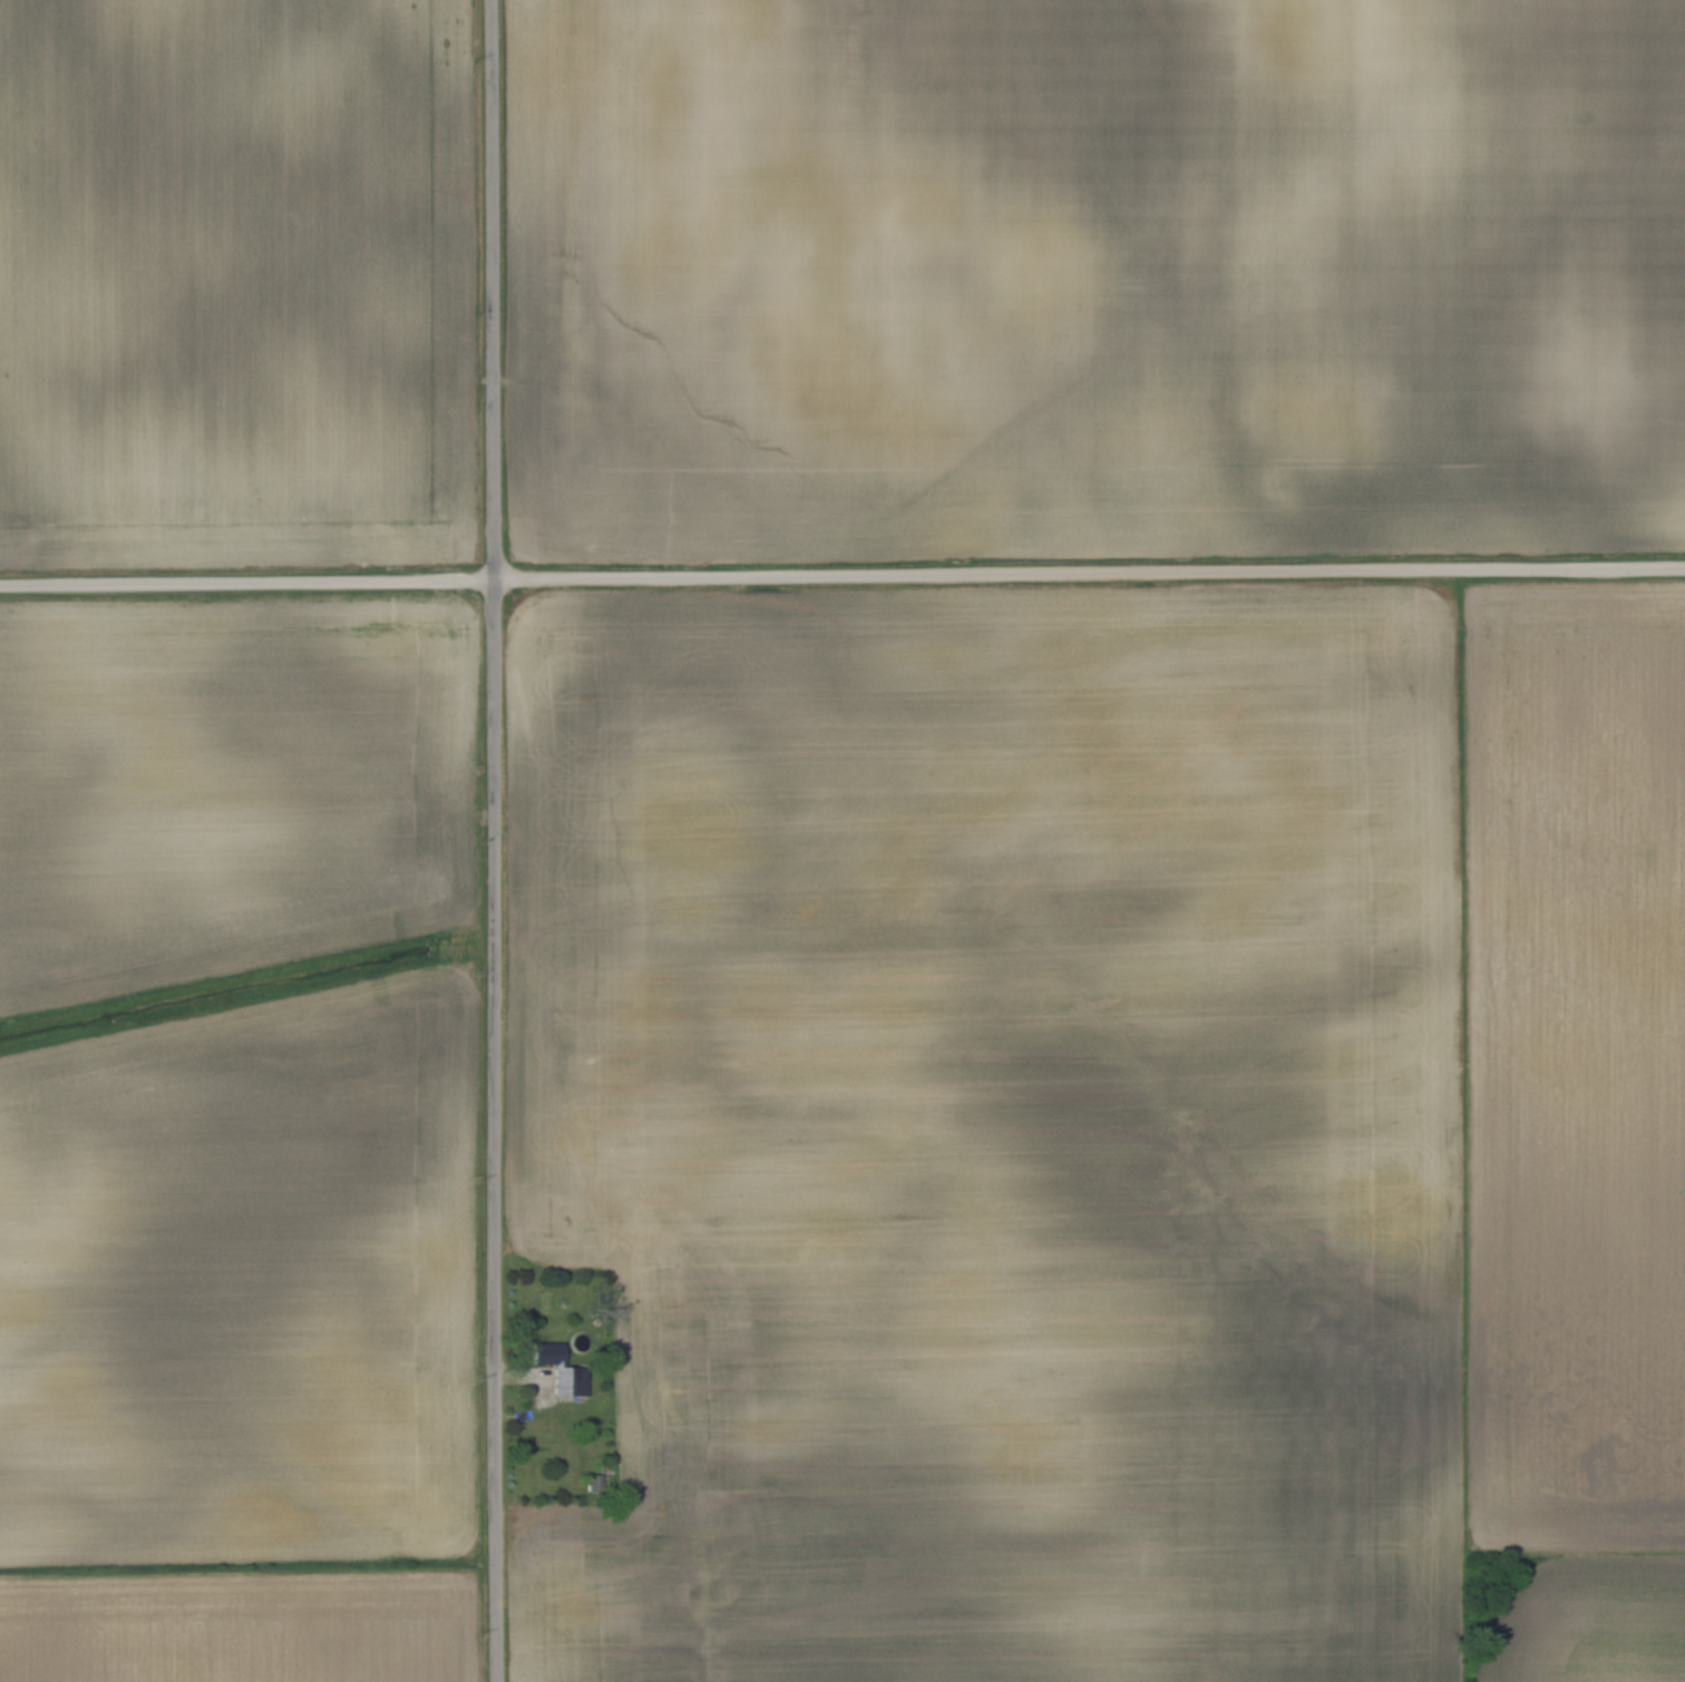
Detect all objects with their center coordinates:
road: (841, 570)
road: (483, 840)
building: (561, 1369)

